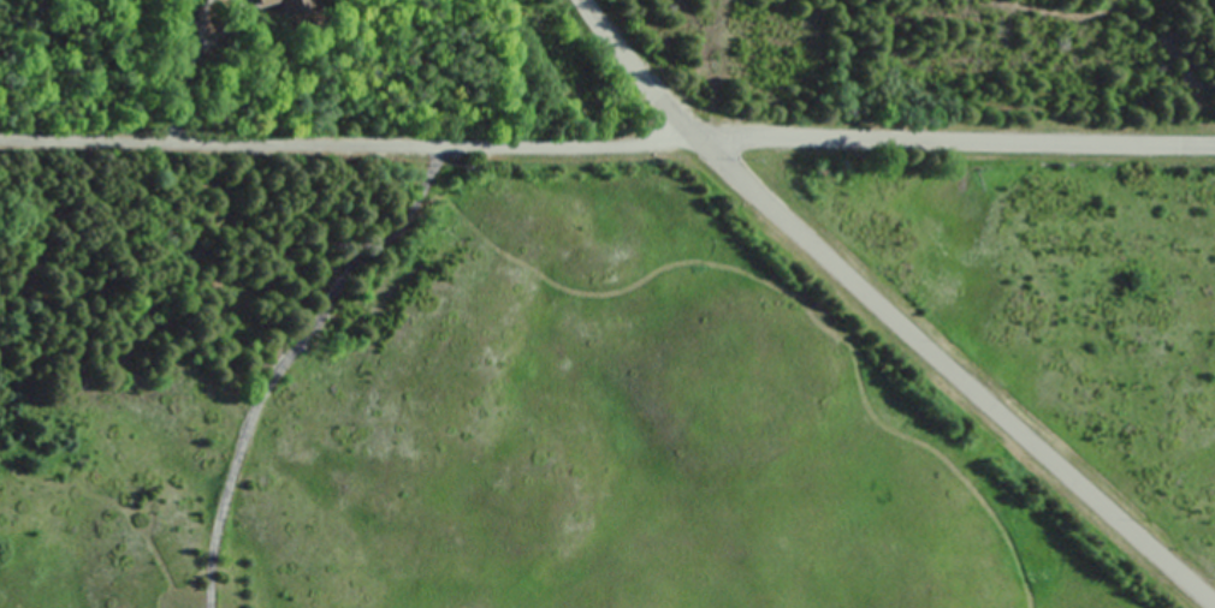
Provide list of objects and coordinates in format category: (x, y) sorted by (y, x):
building: (278, 8)
road: (635, 70)
road: (954, 138)
road: (346, 148)
road: (283, 357)
road: (952, 372)

